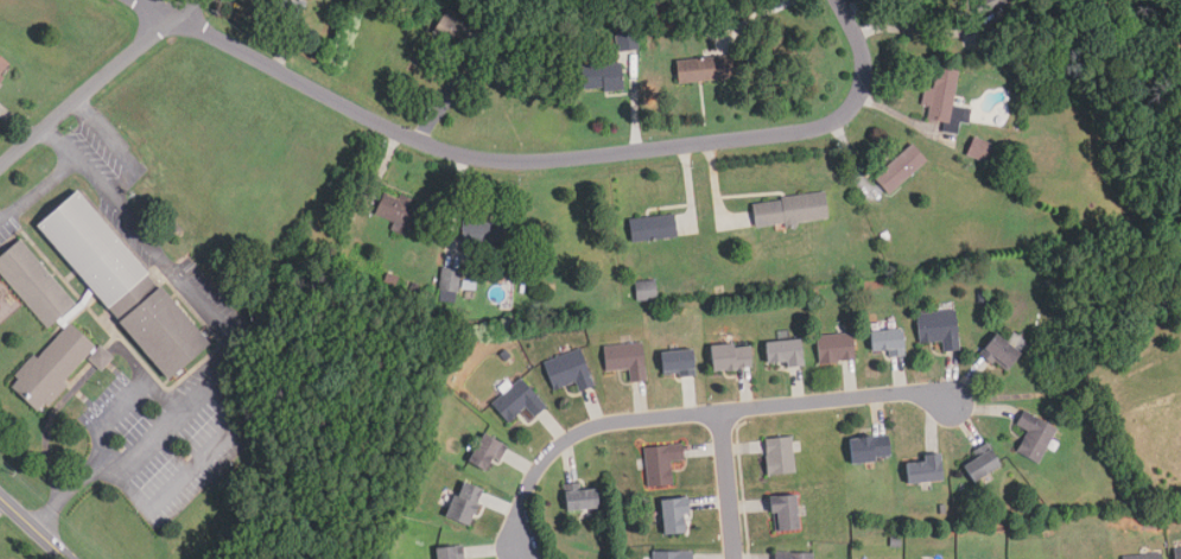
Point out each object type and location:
building: (990, 5)
building: (285, 8)
building: (453, 30)
road: (918, 30)
building: (624, 40)
park: (1154, 57)
building: (5, 66)
building: (698, 70)
building: (601, 76)
road: (96, 81)
building: (942, 99)
road: (106, 132)
building: (978, 148)
road: (542, 159)
building: (899, 169)
road: (37, 188)
building: (787, 209)
building: (404, 212)
building: (653, 228)
building: (489, 234)
building: (91, 248)
building: (450, 279)
building: (33, 282)
building: (645, 290)
building: (938, 328)
building: (163, 331)
road: (230, 338)
building: (885, 341)
building: (834, 347)
building: (1002, 349)
building: (782, 351)
building: (729, 356)
building: (626, 358)
building: (674, 362)
building: (51, 367)
building: (570, 370)
road: (158, 390)
road: (64, 398)
building: (519, 401)
road: (113, 412)
road: (700, 414)
building: (1033, 436)
building: (868, 447)
building: (489, 452)
building: (777, 455)
building: (979, 462)
building: (660, 463)
building: (923, 468)
road: (728, 485)
road: (167, 494)
building: (582, 497)
building: (468, 502)
building: (782, 512)
building: (672, 515)
road: (34, 527)
building: (450, 553)
building: (1176, 553)
building: (671, 554)
building: (792, 555)
building: (1143, 555)

